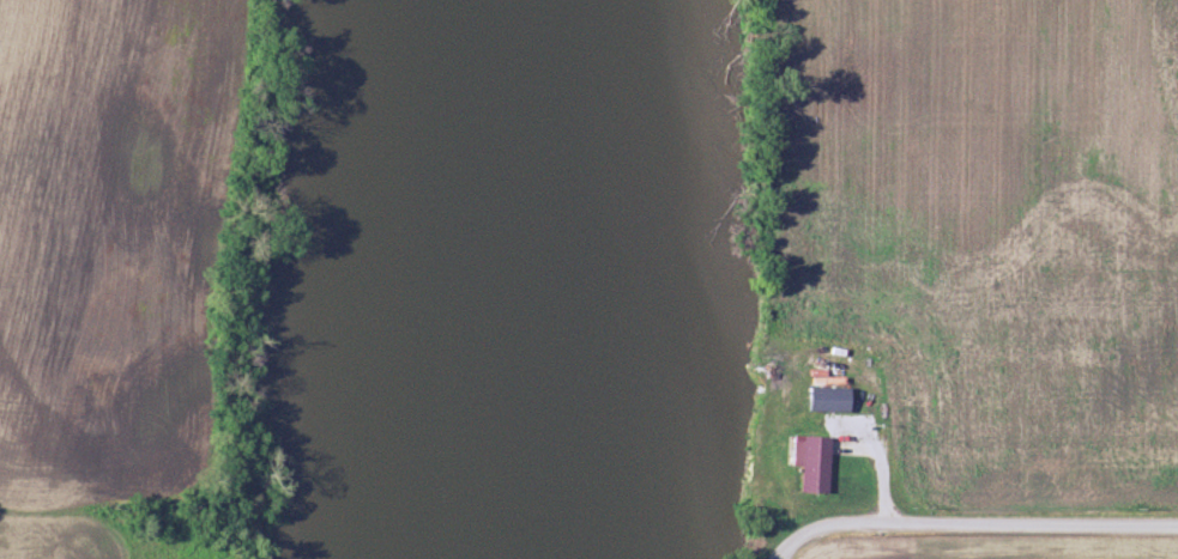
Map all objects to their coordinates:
building: (827, 400)
building: (810, 464)
road: (883, 485)
road: (974, 525)

